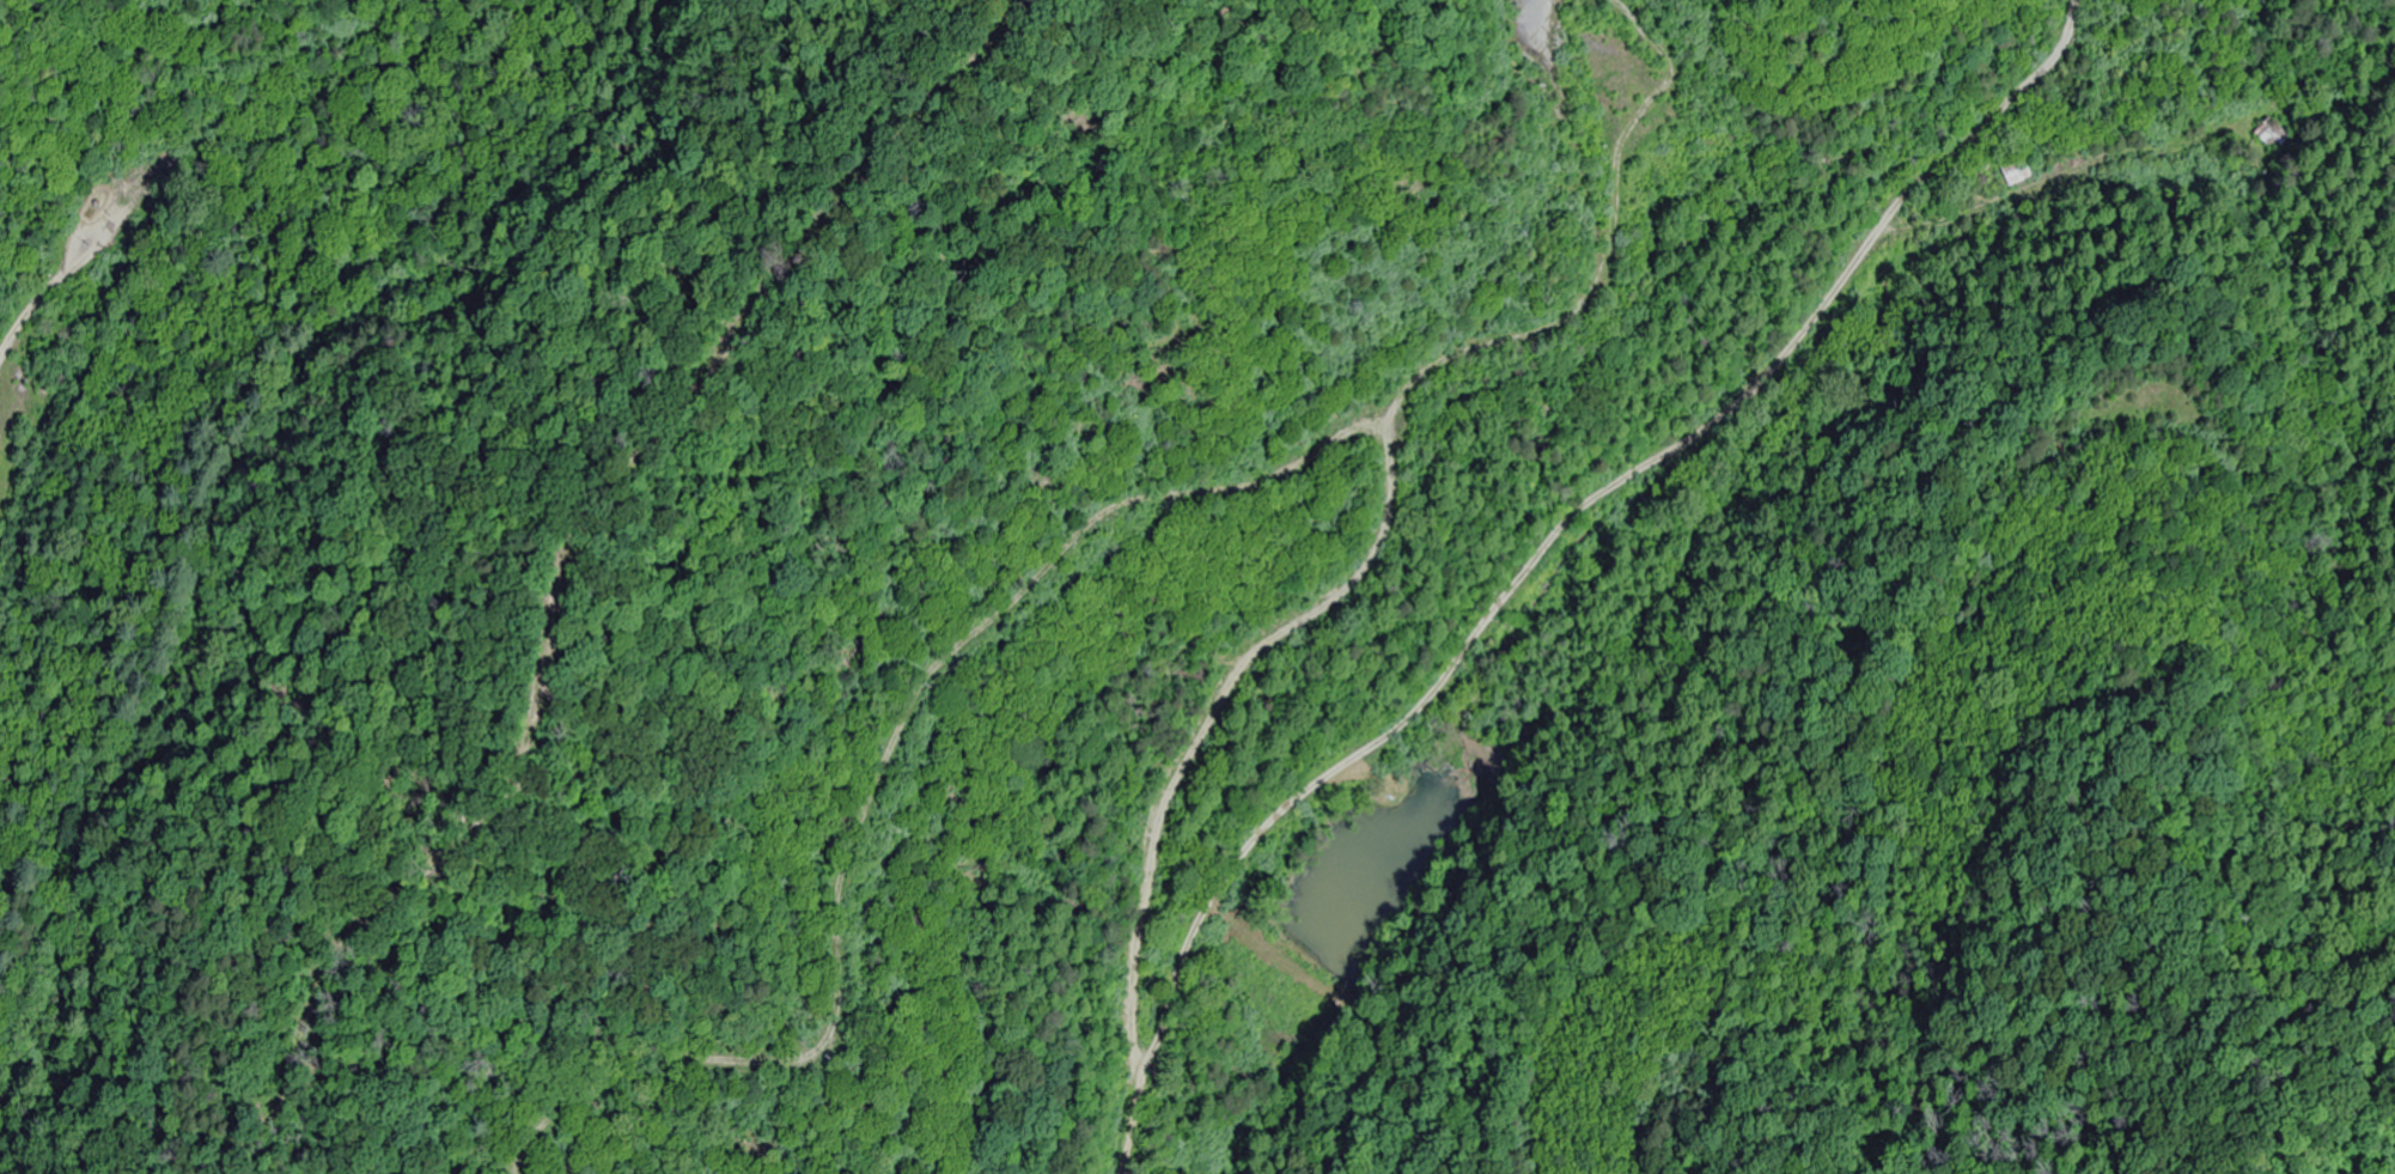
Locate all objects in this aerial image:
building: (2269, 134)
building: (2019, 172)
road: (1503, 512)

